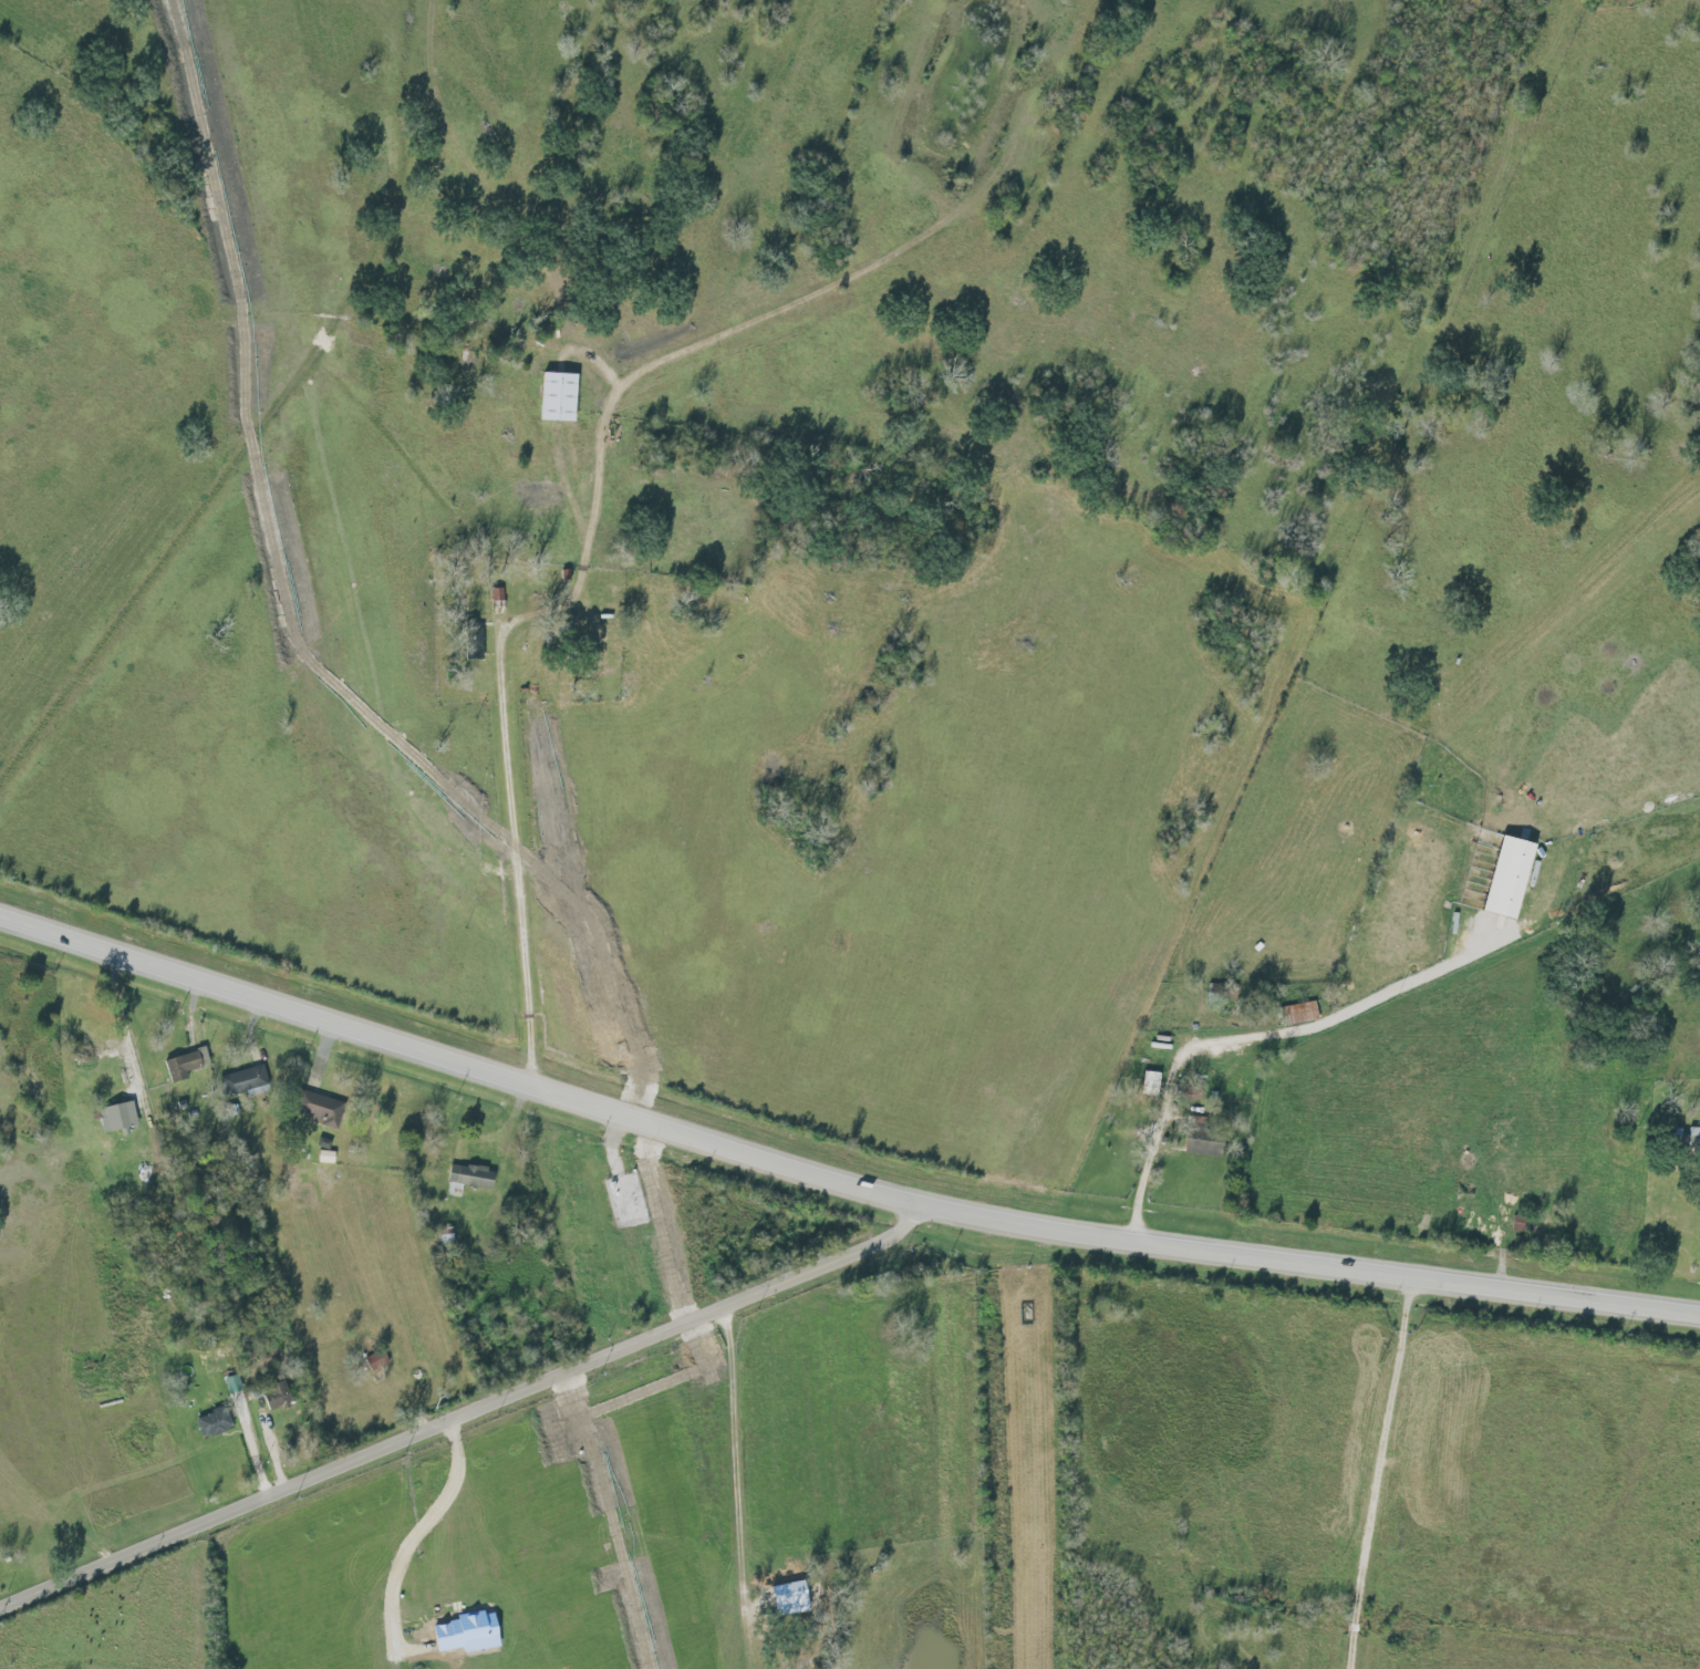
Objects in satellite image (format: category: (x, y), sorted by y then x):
building: (559, 396)
road: (595, 500)
road: (169, 561)
road: (520, 862)
building: (1510, 875)
building: (1302, 1012)
building: (186, 1062)
building: (245, 1079)
building: (324, 1109)
building: (120, 1116)
building: (1694, 1136)
building: (1204, 1139)
building: (468, 1178)
road: (836, 1180)
road: (1142, 1185)
building: (277, 1395)
road: (469, 1418)
building: (214, 1421)
road: (252, 1448)
road: (1382, 1475)

